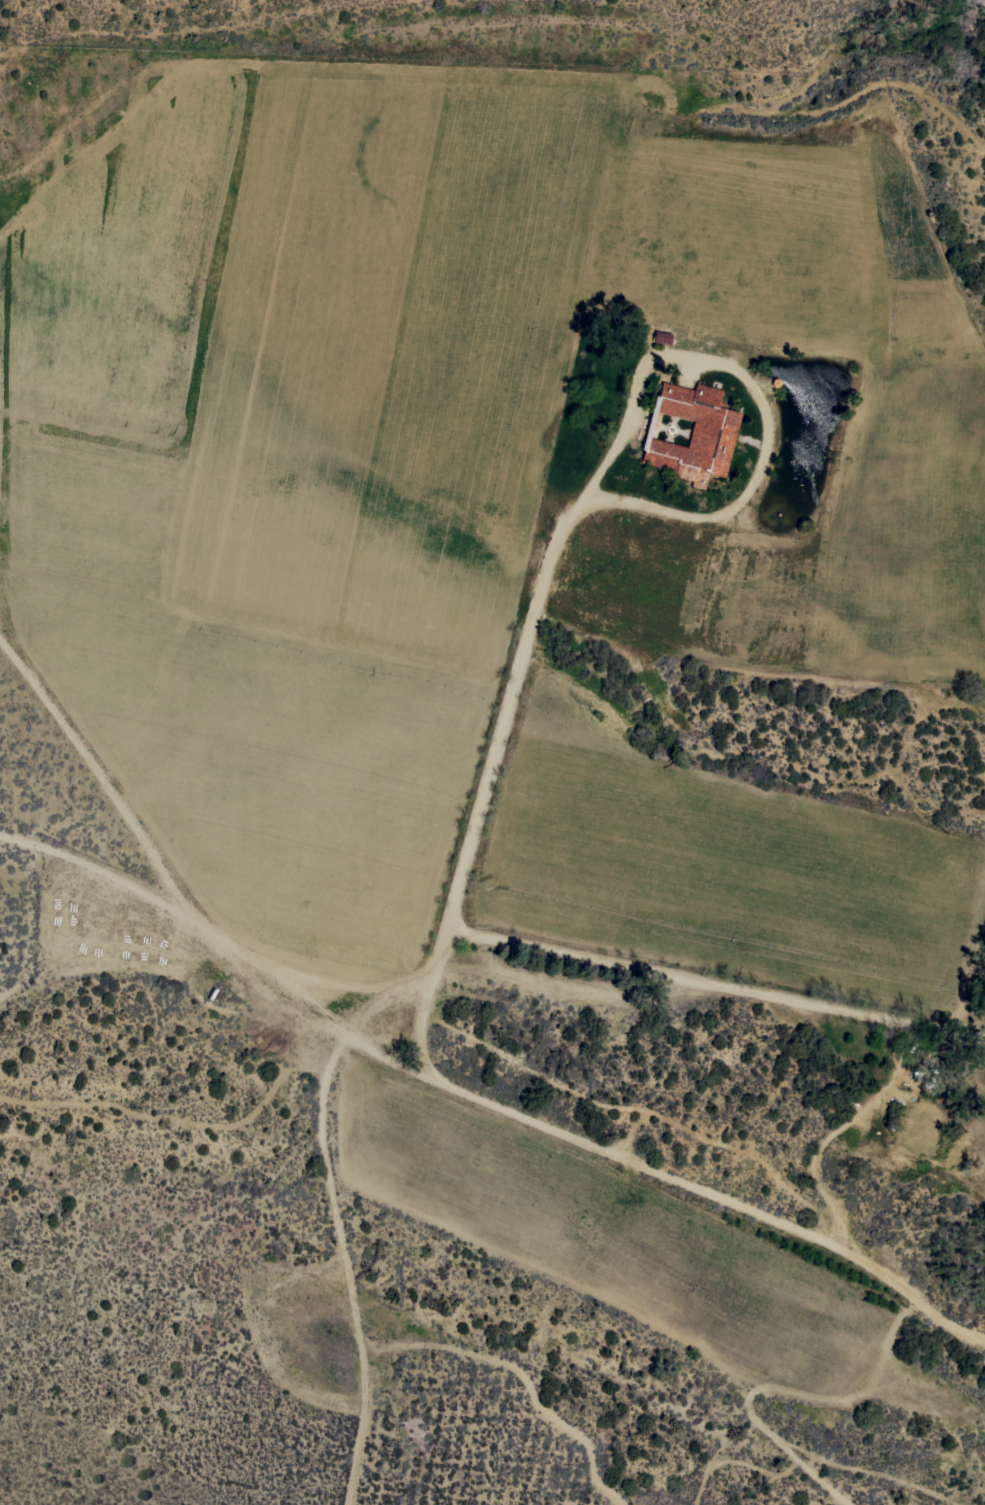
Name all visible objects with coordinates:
building: (692, 433)
road: (607, 454)
crop: (480, 520)
road: (715, 986)
building: (922, 1065)
crop: (556, 1291)

